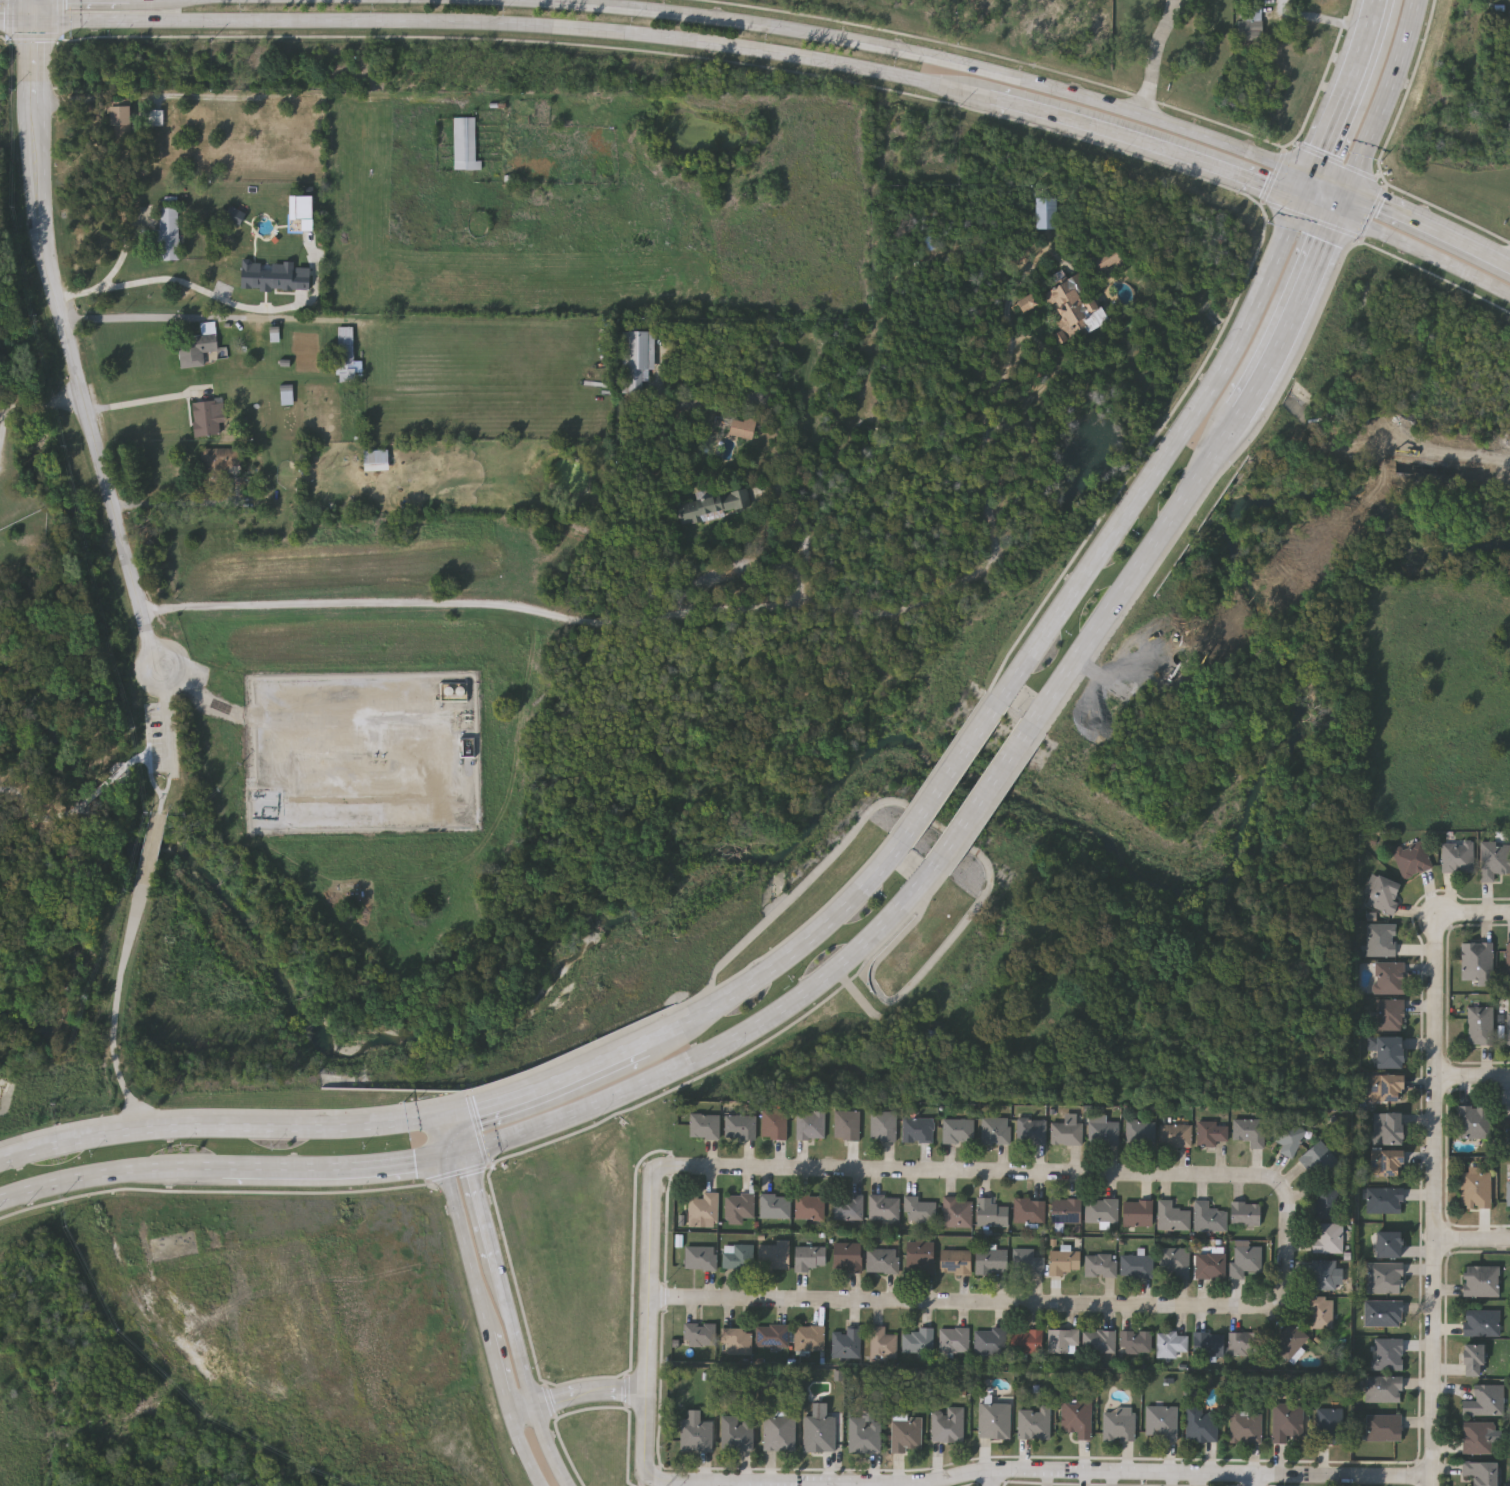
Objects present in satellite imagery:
road: (38, 10)
building: (1251, 17)
road: (1319, 17)
road: (11, 18)
road: (62, 18)
road: (19, 20)
traffic signals: (38, 20)
road: (516, 27)
road: (36, 37)
road: (1158, 56)
road: (933, 57)
road: (1348, 89)
road: (252, 97)
road: (1385, 97)
building: (124, 115)
building: (158, 116)
building: (464, 143)
road: (1148, 143)
road: (1291, 144)
road: (1338, 161)
road: (1275, 174)
traffic signals: (1315, 178)
road: (1385, 179)
road: (1331, 185)
road: (1310, 189)
traffic signals: (1348, 192)
traffic signals: (1305, 201)
road: (1343, 203)
road: (1321, 207)
road: (1375, 210)
building: (303, 211)
building: (1045, 212)
traffic signals: (1338, 214)
building: (237, 216)
road: (1313, 219)
road: (1429, 228)
building: (169, 231)
road: (1424, 251)
road: (121, 254)
building: (1105, 258)
building: (276, 277)
road: (168, 279)
building: (1029, 303)
building: (1074, 305)
road: (1291, 316)
road: (139, 318)
building: (199, 344)
road: (73, 352)
building: (346, 355)
building: (635, 358)
building: (288, 395)
road: (140, 402)
road: (42, 408)
building: (207, 417)
building: (733, 424)
building: (375, 456)
road: (1163, 456)
building: (219, 462)
building: (711, 503)
road: (175, 504)
road: (1134, 574)
road: (689, 615)
road: (167, 722)
parking lot: (168, 727)
road: (141, 757)
road: (957, 765)
road: (164, 790)
road: (97, 791)
road: (987, 795)
park: (57, 804)
road: (41, 817)
road: (151, 850)
building: (1457, 855)
building: (1412, 857)
building: (1494, 858)
building: (1382, 893)
road: (1477, 918)
building: (1380, 938)
road: (793, 952)
building: (1508, 960)
building: (1477, 961)
building: (1389, 976)
road: (116, 1011)
building: (1389, 1012)
building: (1481, 1024)
building: (1509, 1028)
road: (731, 1038)
building: (1387, 1050)
road: (1475, 1078)
road: (553, 1080)
building: (1386, 1086)
road: (305, 1113)
traffic signals: (459, 1113)
road: (445, 1115)
traffic signals: (431, 1118)
building: (1475, 1120)
building: (774, 1123)
building: (810, 1123)
building: (846, 1123)
building: (882, 1123)
building: (704, 1125)
building: (740, 1126)
road: (214, 1127)
building: (1387, 1127)
building: (917, 1128)
road: (479, 1129)
building: (958, 1129)
building: (995, 1129)
building: (1031, 1130)
building: (1249, 1130)
road: (465, 1131)
building: (1066, 1132)
building: (1104, 1132)
building: (1140, 1132)
building: (1211, 1132)
building: (1176, 1133)
building: (1287, 1135)
road: (437, 1139)
traffic signals: (471, 1150)
road: (457, 1155)
building: (1321, 1158)
traffic signals: (443, 1160)
building: (1386, 1162)
road: (333, 1167)
road: (110, 1170)
road: (958, 1171)
building: (1476, 1187)
building: (1507, 1192)
building: (1384, 1199)
building: (1327, 1201)
road: (1440, 1203)
building: (739, 1204)
building: (774, 1205)
building: (703, 1206)
building: (809, 1206)
building: (847, 1206)
building: (883, 1206)
building: (919, 1208)
building: (1029, 1209)
building: (1102, 1209)
building: (1066, 1210)
building: (957, 1211)
building: (991, 1211)
building: (1138, 1212)
building: (1245, 1213)
building: (1172, 1215)
building: (1209, 1217)
building: (1328, 1237)
road: (1475, 1238)
road: (1288, 1242)
building: (1388, 1243)
building: (771, 1254)
building: (846, 1255)
building: (919, 1255)
building: (700, 1256)
building: (737, 1256)
building: (808, 1257)
building: (1245, 1258)
building: (882, 1259)
building: (990, 1260)
building: (954, 1261)
building: (1027, 1261)
building: (1064, 1261)
building: (1175, 1261)
building: (1101, 1264)
building: (1211, 1264)
building: (1137, 1265)
building: (1323, 1274)
building: (1384, 1277)
building: (1480, 1280)
road: (954, 1301)
building: (1320, 1311)
building: (1383, 1312)
road: (525, 1317)
road: (512, 1320)
road: (655, 1322)
building: (1481, 1322)
road: (486, 1325)
building: (699, 1333)
building: (772, 1335)
building: (809, 1338)
building: (918, 1339)
building: (954, 1339)
building: (737, 1340)
building: (990, 1340)
building: (1028, 1340)
building: (1063, 1340)
building: (1100, 1340)
building: (1136, 1340)
building: (1290, 1340)
building: (846, 1341)
building: (882, 1342)
building: (1172, 1342)
building: (1209, 1343)
building: (1242, 1343)
building: (1389, 1353)
building: (1472, 1358)
building: (1383, 1388)
road: (580, 1389)
road: (627, 1391)
building: (1484, 1399)
building: (1077, 1416)
building: (994, 1419)
building: (1162, 1421)
building: (1288, 1421)
building: (1035, 1422)
building: (947, 1423)
building: (1119, 1423)
building: (1202, 1423)
building: (1329, 1424)
building: (1245, 1426)
building: (1383, 1426)
building: (696, 1432)
building: (779, 1432)
building: (819, 1432)
building: (906, 1432)
building: (737, 1433)
building: (863, 1434)
building: (1477, 1436)
road: (629, 1448)
road: (1040, 1471)
building: (1479, 1472)
road: (1001, 1478)
road: (1251, 1478)
road: (645, 1482)
road: (688, 1483)
road: (773, 1484)
road: (882, 1485)

